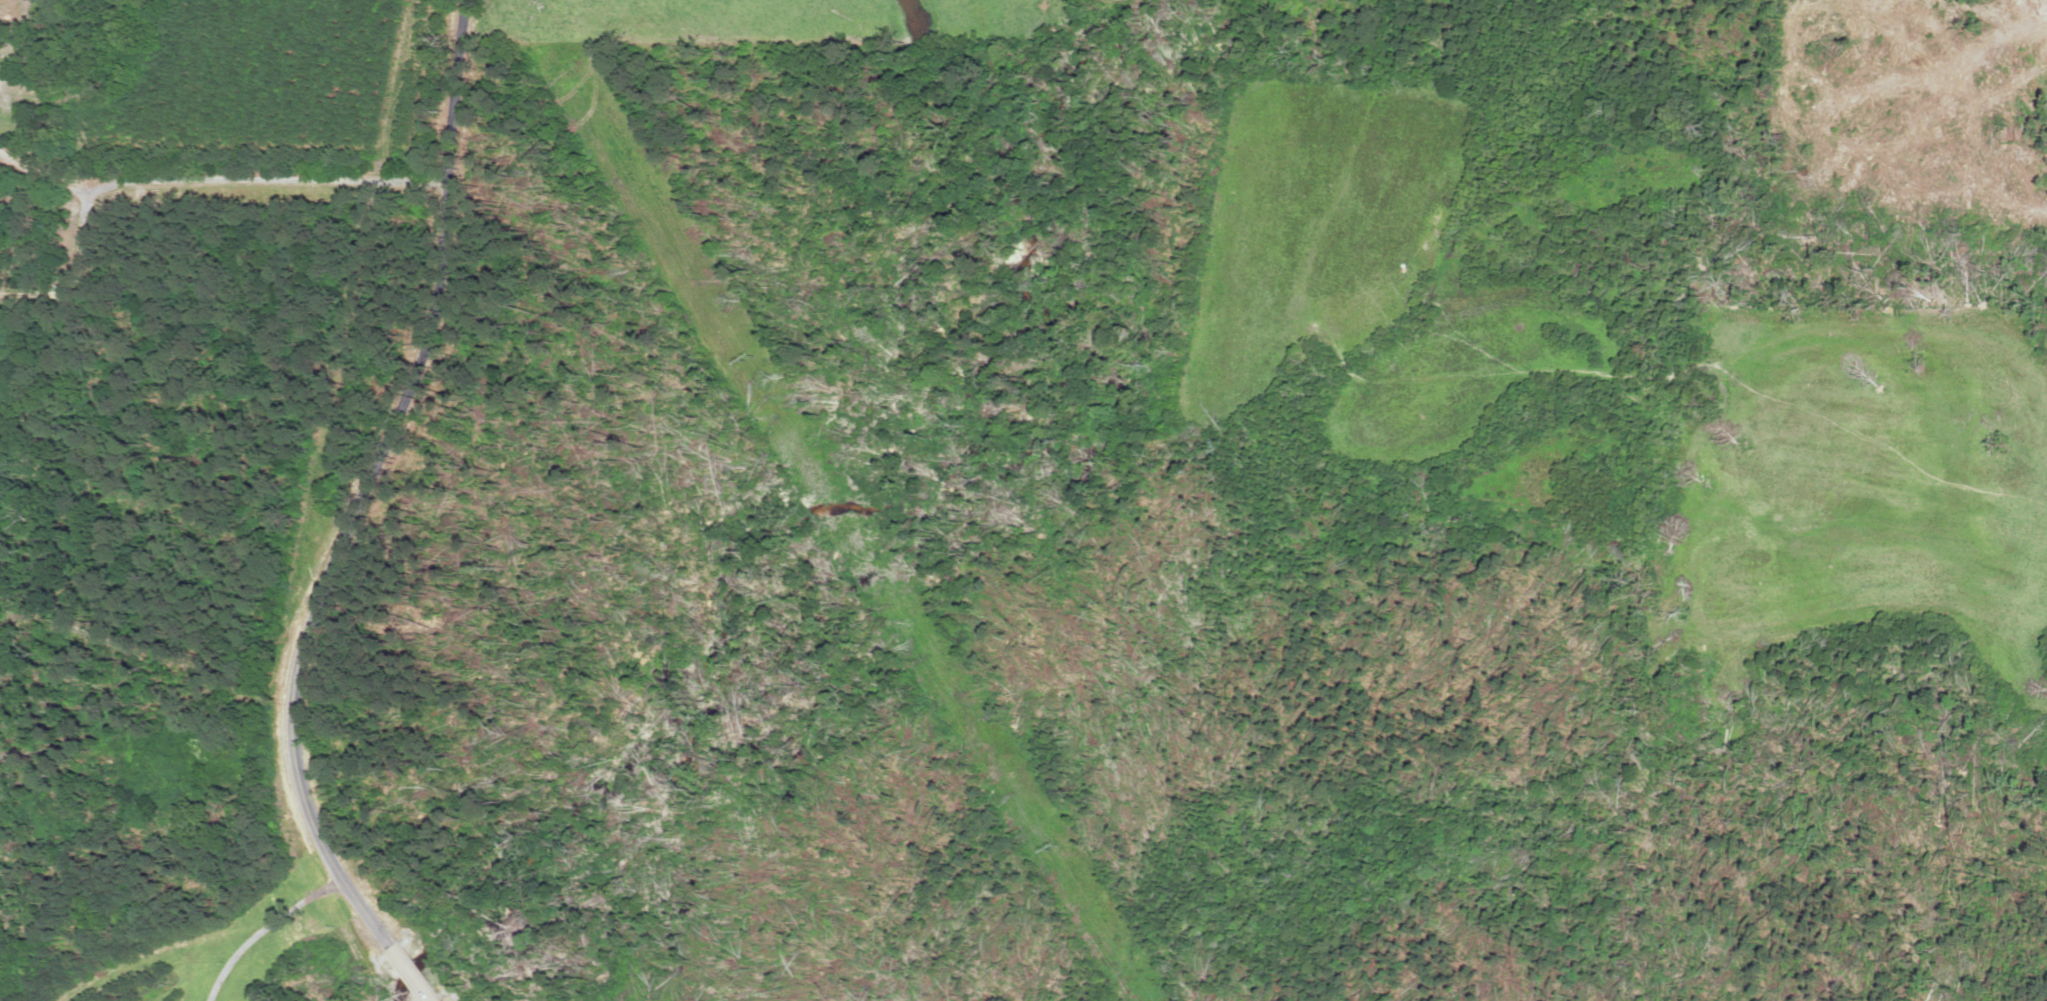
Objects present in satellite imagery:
road: (218, 176)
road: (347, 516)
road: (262, 929)

